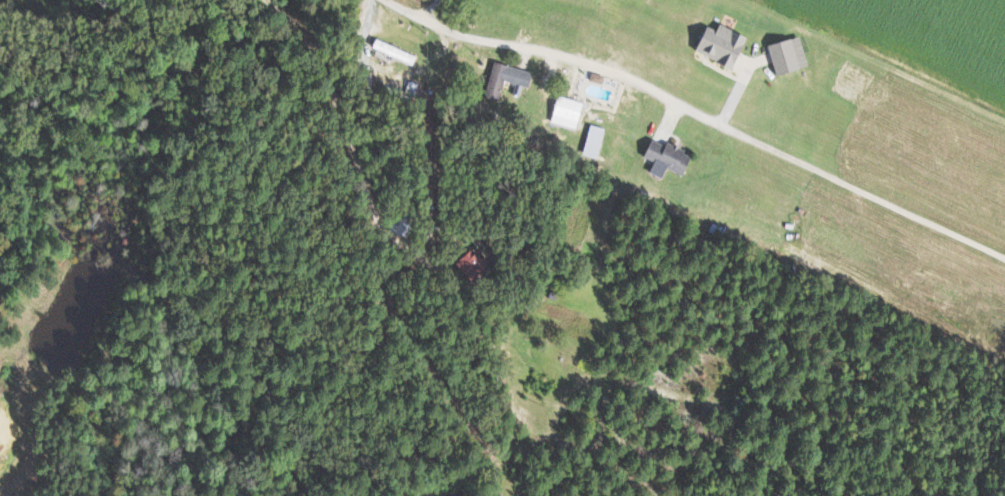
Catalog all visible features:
road: (428, 11)
building: (717, 44)
building: (398, 51)
road: (527, 53)
building: (784, 55)
building: (509, 78)
road: (337, 109)
building: (571, 112)
building: (596, 141)
building: (661, 157)
road: (843, 183)

